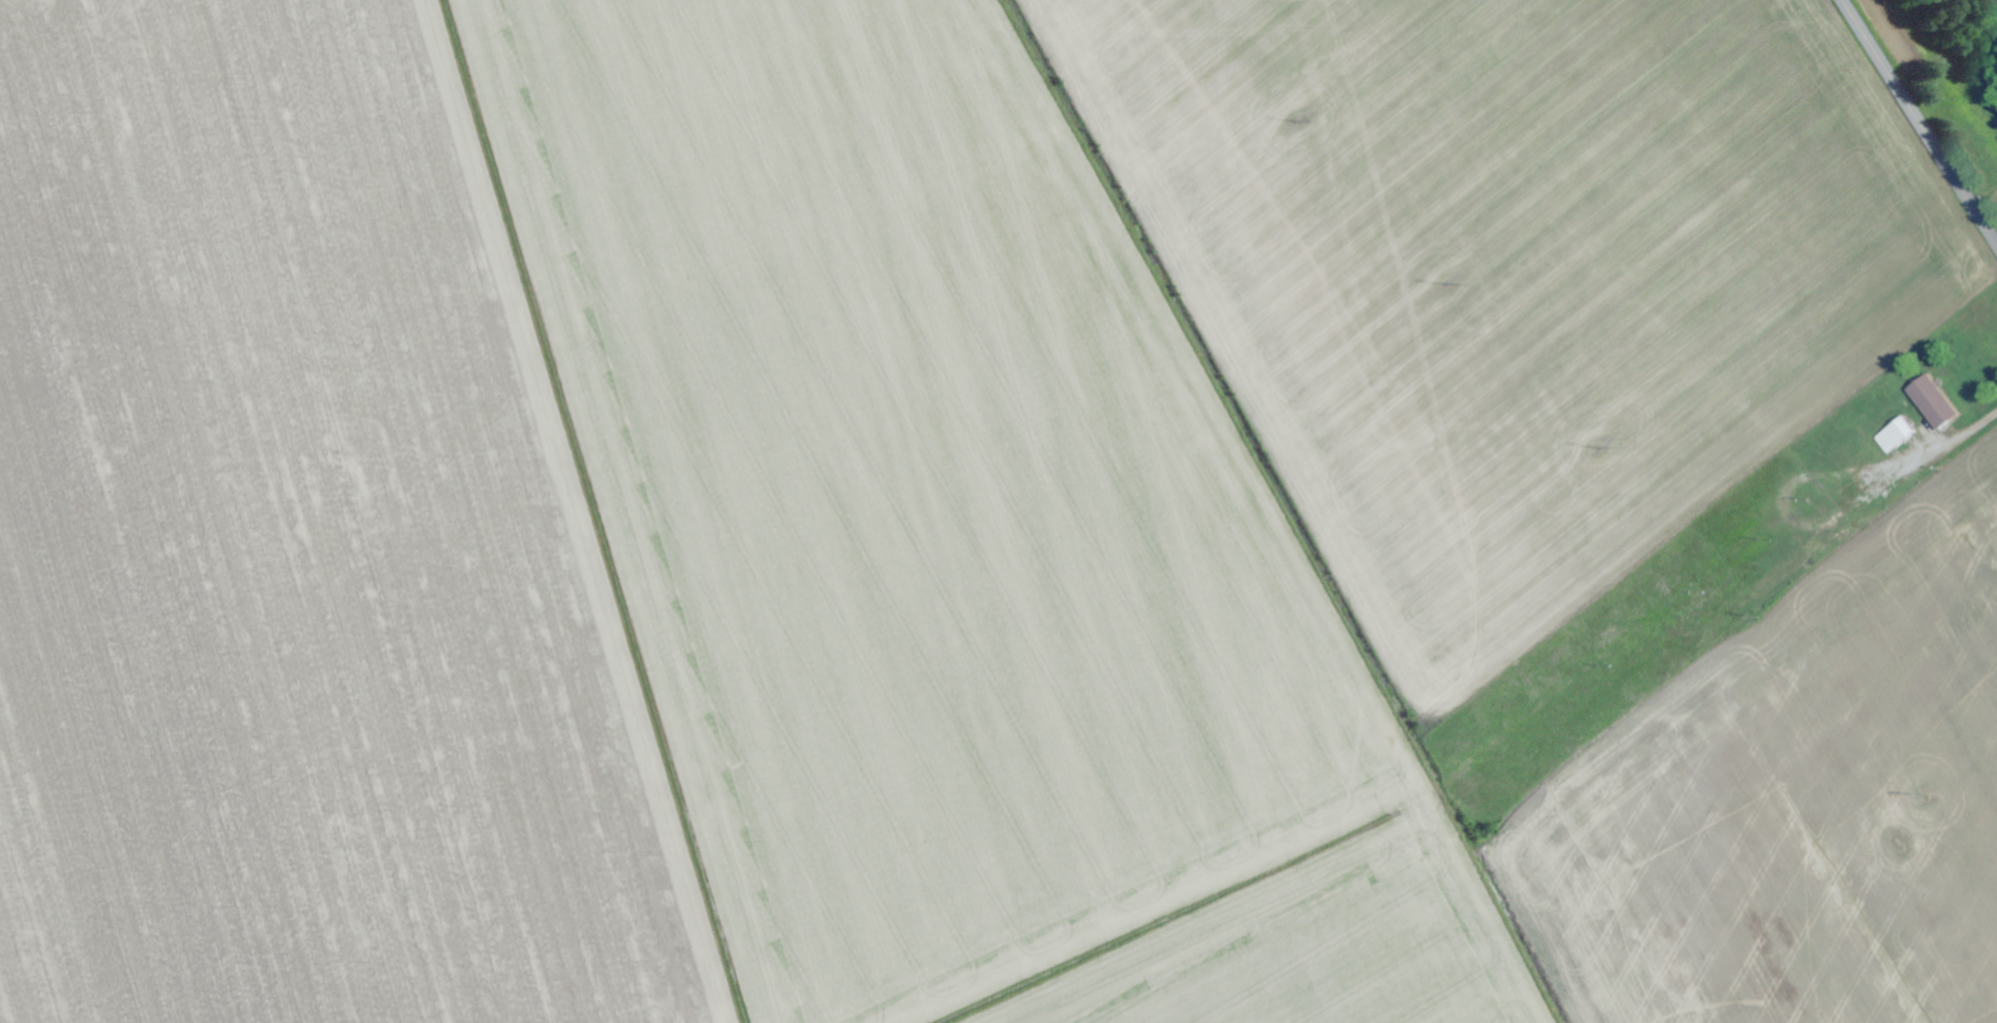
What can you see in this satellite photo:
road: (1919, 122)
building: (1938, 402)
building: (1900, 435)

